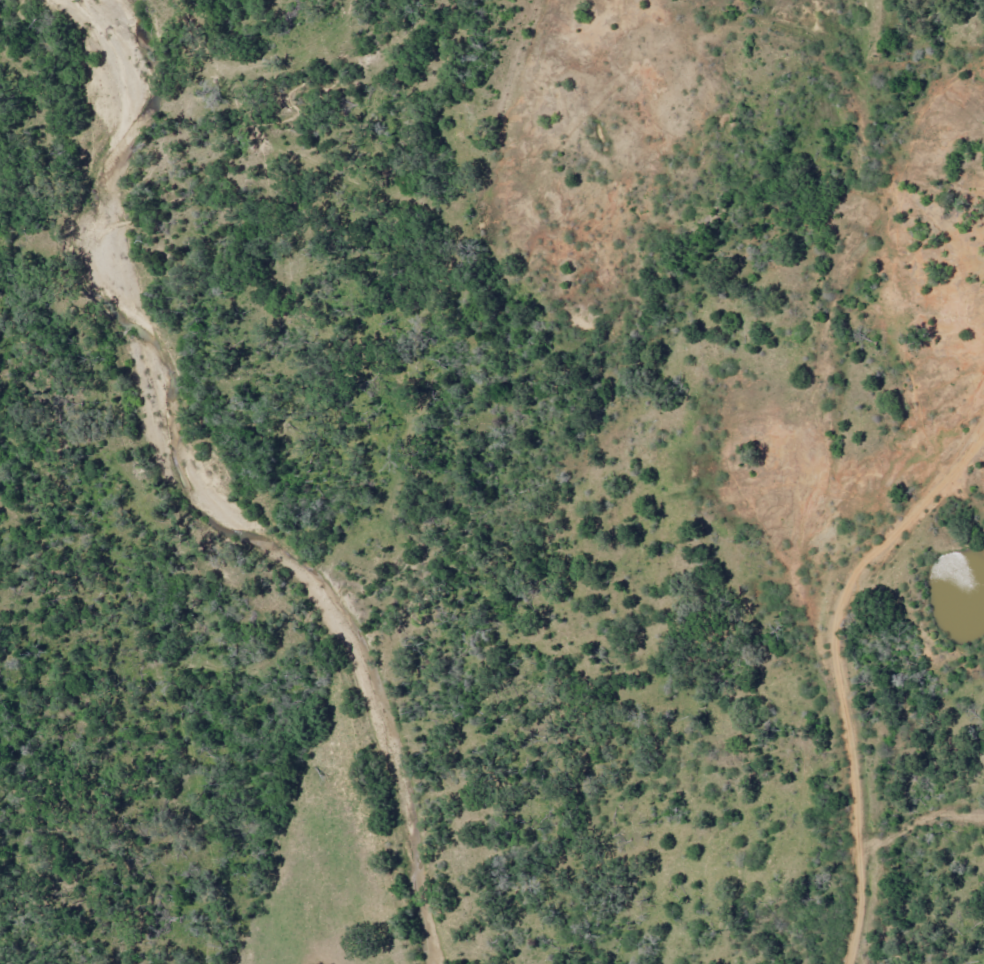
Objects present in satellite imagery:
road: (831, 634)
road: (737, 919)
road: (788, 930)

